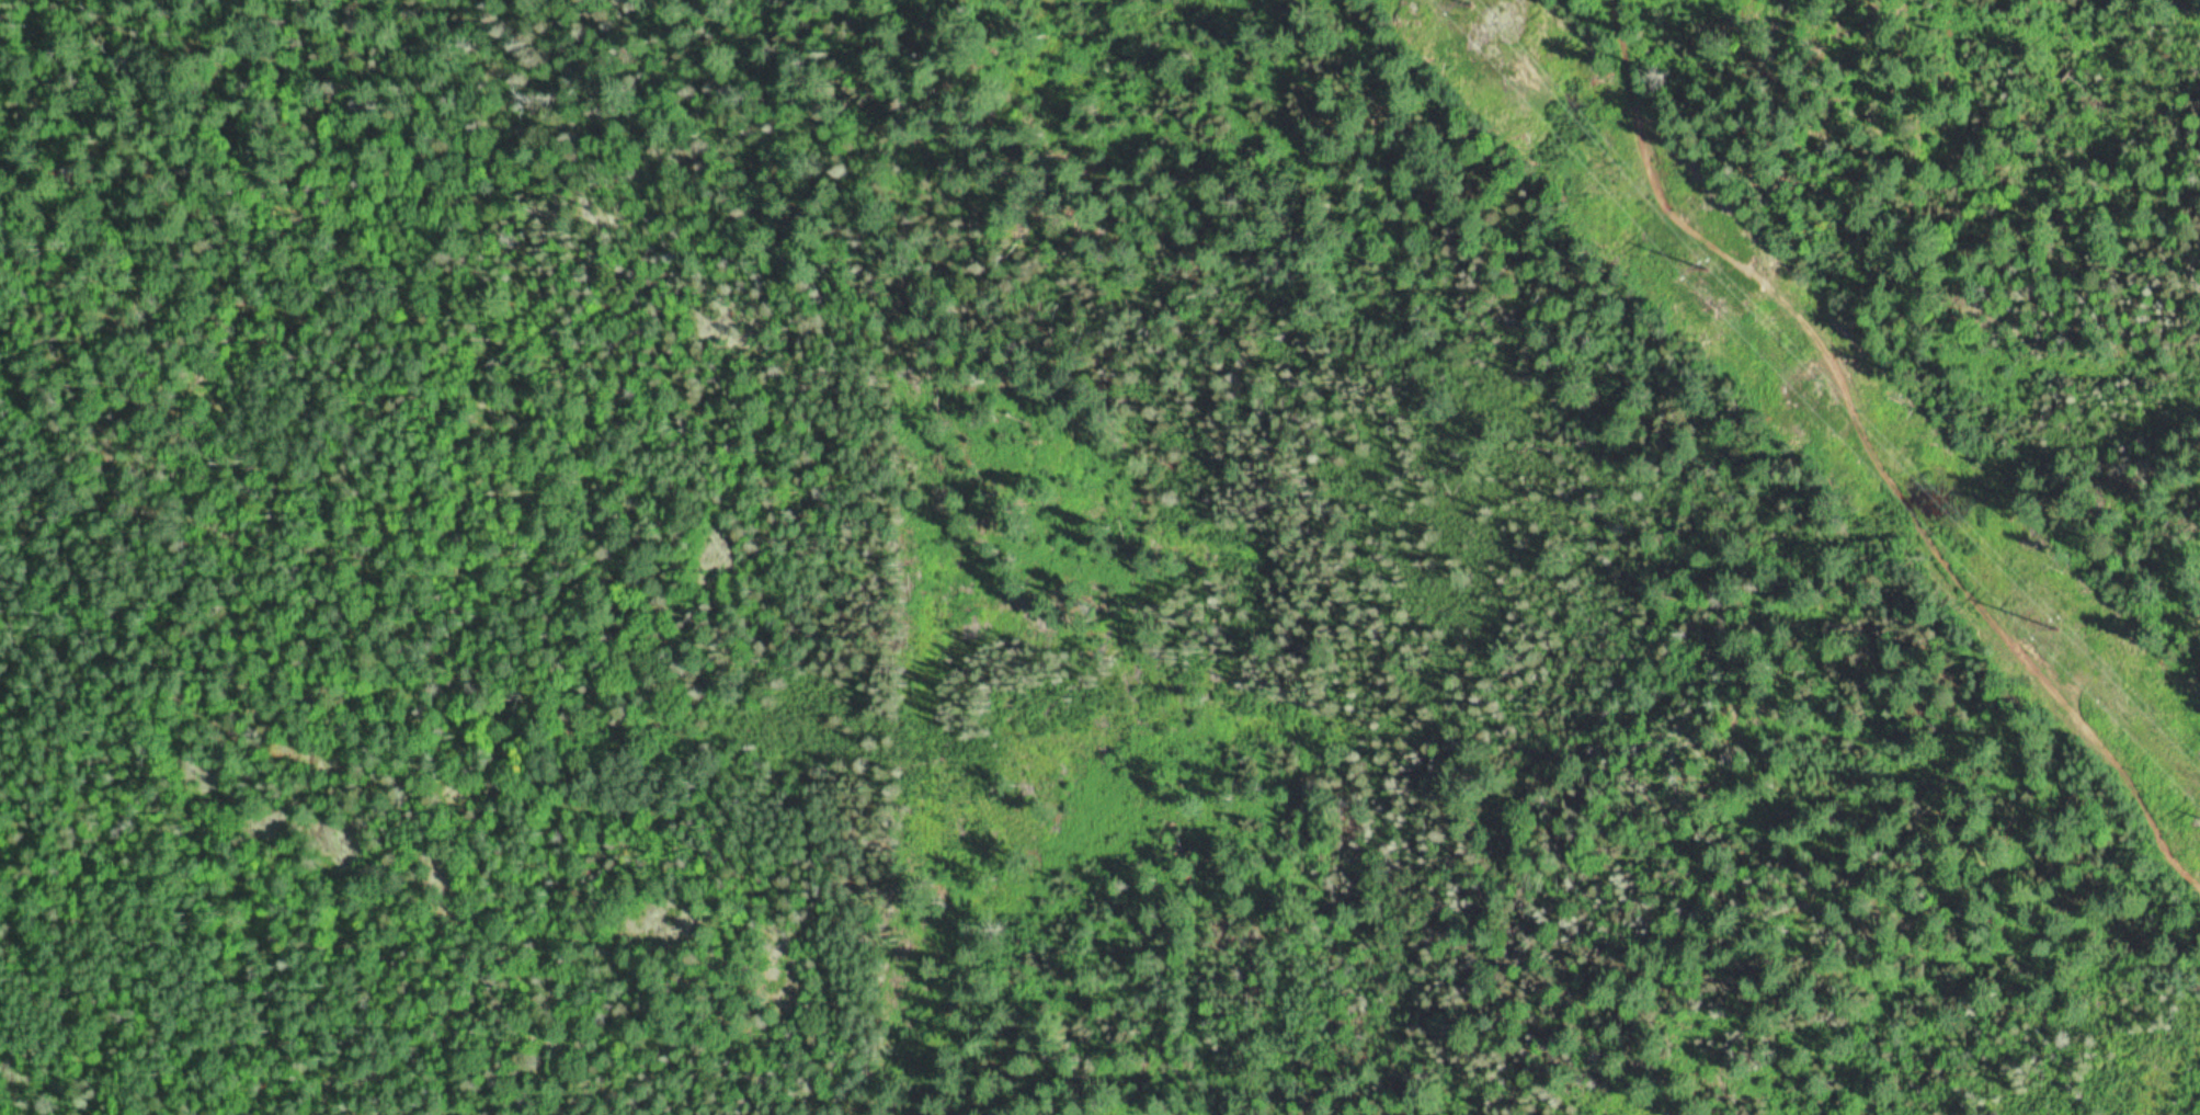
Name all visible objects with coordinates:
power tower: (1473, 3)
power tower: (1708, 269)
road: (1862, 355)
power tower: (2059, 627)

